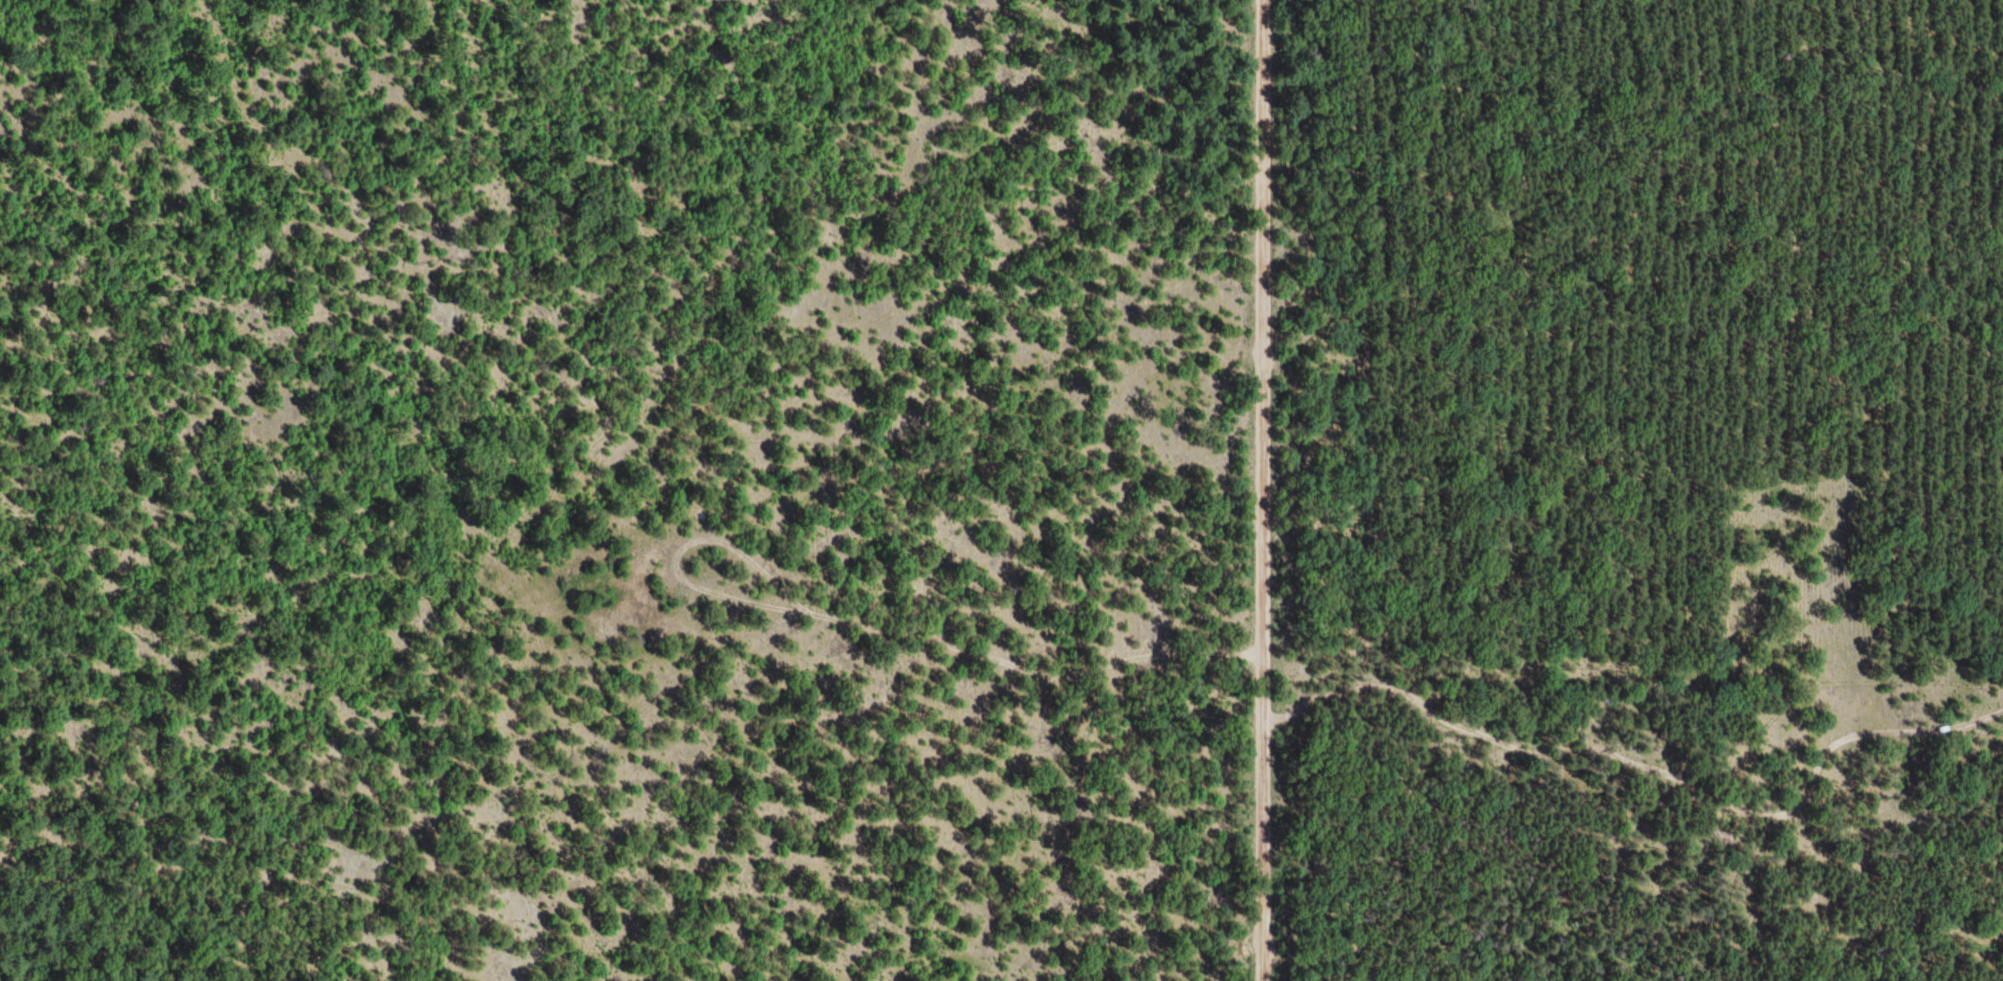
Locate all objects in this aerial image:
road: (1260, 490)
road: (1642, 776)

